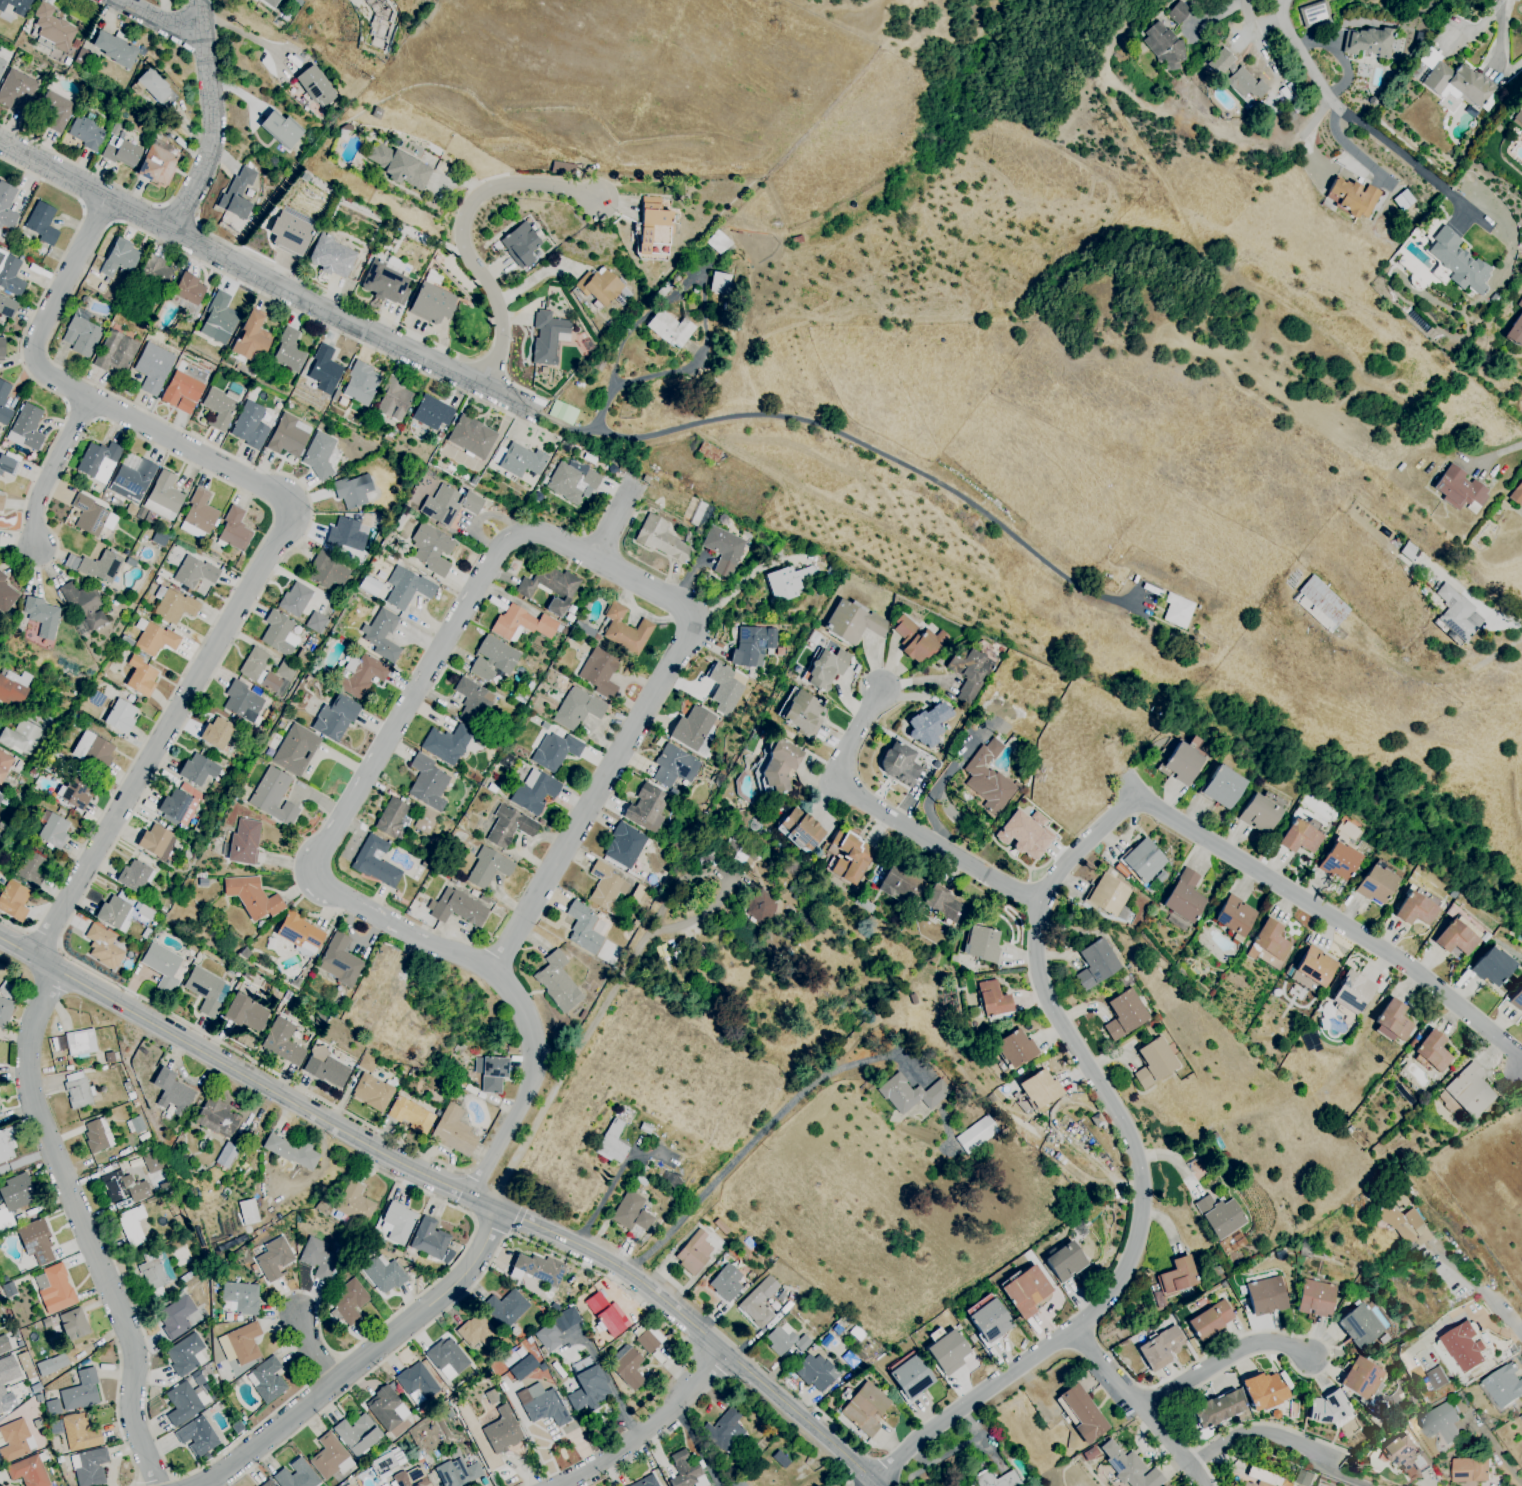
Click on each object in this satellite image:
building: (270, 2)
building: (15, 6)
road: (1223, 7)
building: (1179, 14)
building: (1314, 15)
road: (162, 20)
building: (378, 23)
building: (52, 28)
building: (1369, 44)
road: (1499, 44)
building: (1166, 46)
building: (113, 49)
building: (1219, 62)
building: (1, 64)
building: (1423, 67)
building: (1456, 83)
building: (315, 87)
building: (1248, 88)
building: (155, 89)
building: (16, 90)
building: (54, 111)
road: (209, 119)
building: (1517, 119)
road: (1362, 128)
building: (280, 130)
building: (86, 133)
road: (1310, 135)
road: (1352, 152)
building: (120, 153)
building: (158, 163)
building: (397, 166)
road: (83, 168)
building: (237, 193)
building: (1355, 200)
building: (6, 208)
road: (177, 216)
building: (41, 223)
building: (652, 230)
road: (466, 238)
building: (519, 244)
building: (331, 257)
building: (118, 258)
building: (1458, 263)
building: (153, 273)
building: (9, 275)
road: (535, 275)
building: (383, 283)
building: (718, 283)
building: (599, 286)
road: (321, 289)
building: (185, 293)
building: (431, 304)
building: (1520, 305)
building: (6, 307)
road: (705, 314)
building: (216, 320)
building: (668, 329)
building: (1515, 334)
building: (80, 335)
building: (250, 337)
building: (546, 337)
building: (1, 347)
road: (442, 347)
building: (287, 351)
building: (114, 352)
building: (152, 368)
building: (322, 371)
building: (359, 384)
building: (180, 392)
building: (3, 396)
building: (392, 400)
building: (561, 412)
building: (431, 413)
road: (105, 422)
building: (248, 425)
building: (25, 428)
road: (568, 429)
building: (288, 436)
building: (470, 437)
building: (708, 452)
building: (318, 455)
building: (97, 461)
building: (520, 461)
building: (7, 466)
road: (49, 475)
building: (130, 478)
building: (571, 483)
building: (350, 492)
building: (1461, 492)
building: (162, 497)
building: (1517, 497)
building: (1, 503)
building: (448, 505)
building: (198, 514)
road: (615, 522)
road: (306, 528)
building: (233, 530)
building: (345, 535)
building: (660, 539)
building: (431, 550)
building: (722, 550)
building: (1411, 553)
building: (95, 566)
building: (193, 572)
building: (326, 573)
road: (744, 581)
building: (788, 581)
building: (549, 588)
building: (407, 589)
building: (5, 596)
building: (294, 599)
building: (1321, 605)
building: (174, 606)
building: (1177, 611)
building: (41, 617)
building: (1460, 617)
building: (315, 623)
building: (851, 623)
building: (521, 624)
building: (624, 630)
building: (278, 634)
building: (380, 635)
building: (154, 640)
building: (915, 640)
building: (751, 646)
building: (491, 659)
building: (825, 669)
building: (258, 670)
building: (284, 672)
building: (599, 672)
building: (969, 674)
building: (359, 676)
building: (140, 677)
building: (13, 688)
building: (723, 689)
building: (472, 701)
building: (242, 702)
building: (576, 709)
building: (801, 714)
building: (119, 716)
building: (334, 718)
building: (928, 725)
building: (692, 730)
building: (215, 733)
building: (20, 738)
building: (445, 744)
road: (621, 748)
building: (294, 750)
building: (92, 751)
building: (554, 751)
road: (376, 757)
building: (1181, 763)
building: (4, 764)
building: (779, 765)
building: (898, 765)
building: (673, 766)
road: (145, 770)
building: (197, 770)
building: (986, 778)
road: (945, 781)
building: (427, 784)
building: (1221, 787)
building: (533, 791)
building: (74, 792)
building: (0, 796)
building: (272, 796)
building: (176, 808)
building: (646, 808)
building: (1257, 814)
building: (390, 817)
road: (893, 818)
building: (424, 821)
building: (508, 827)
building: (799, 830)
building: (52, 831)
building: (1024, 834)
building: (1298, 837)
building: (155, 842)
building: (242, 842)
building: (623, 846)
building: (850, 859)
building: (1143, 861)
building: (374, 862)
building: (1338, 862)
building: (30, 868)
building: (487, 868)
building: (134, 876)
building: (1375, 885)
building: (606, 886)
building: (896, 886)
building: (1107, 895)
building: (251, 897)
building: (1183, 897)
building: (12, 900)
building: (943, 905)
building: (456, 908)
building: (758, 909)
building: (1414, 910)
building: (114, 912)
building: (1233, 917)
road: (1337, 918)
building: (582, 928)
building: (298, 934)
road: (45, 938)
building: (1453, 938)
building: (980, 943)
building: (1268, 945)
building: (102, 947)
building: (339, 961)
building: (1095, 964)
building: (161, 967)
building: (1490, 967)
building: (1312, 969)
building: (557, 983)
building: (206, 991)
building: (1352, 991)
building: (991, 999)
building: (1517, 999)
building: (4, 1012)
building: (245, 1013)
building: (1124, 1014)
building: (1391, 1023)
road: (579, 1037)
building: (1309, 1041)
building: (79, 1042)
building: (282, 1042)
building: (1014, 1049)
building: (1431, 1051)
road: (1080, 1057)
building: (1153, 1062)
building: (366, 1063)
building: (324, 1068)
building: (492, 1074)
building: (1039, 1089)
building: (76, 1090)
road: (526, 1090)
building: (1469, 1091)
building: (371, 1092)
building: (170, 1093)
building: (909, 1094)
building: (409, 1115)
building: (216, 1118)
building: (134, 1125)
building: (453, 1131)
road: (763, 1132)
building: (96, 1135)
building: (974, 1135)
road: (362, 1138)
building: (611, 1143)
building: (291, 1152)
road: (482, 1153)
building: (225, 1156)
building: (153, 1165)
building: (123, 1187)
building: (16, 1192)
building: (353, 1204)
road: (597, 1206)
road: (105, 1209)
building: (247, 1212)
building: (630, 1212)
building: (1219, 1216)
road: (517, 1217)
building: (396, 1223)
building: (1400, 1224)
building: (131, 1225)
road: (510, 1233)
building: (428, 1239)
building: (35, 1241)
building: (693, 1252)
building: (1281, 1256)
building: (273, 1258)
building: (318, 1258)
building: (1064, 1262)
road: (1452, 1264)
building: (536, 1269)
building: (151, 1271)
building: (383, 1274)
building: (1177, 1277)
building: (725, 1283)
building: (53, 1289)
building: (1025, 1291)
building: (1267, 1296)
building: (0, 1298)
building: (240, 1298)
building: (1316, 1298)
building: (348, 1302)
building: (758, 1302)
building: (505, 1308)
road: (1499, 1311)
building: (606, 1315)
road: (439, 1316)
building: (175, 1317)
building: (989, 1321)
building: (1211, 1321)
building: (72, 1324)
building: (1361, 1326)
building: (555, 1329)
building: (477, 1332)
building: (784, 1340)
building: (646, 1342)
building: (3, 1344)
building: (240, 1344)
road: (296, 1347)
building: (1466, 1347)
building: (1159, 1349)
road: (316, 1350)
building: (946, 1352)
road: (1275, 1354)
building: (184, 1355)
building: (446, 1359)
road: (1222, 1359)
road: (365, 1361)
building: (51, 1365)
building: (25, 1366)
building: (626, 1367)
building: (522, 1368)
building: (816, 1372)
building: (910, 1378)
building: (1437, 1378)
building: (1362, 1379)
building: (265, 1380)
building: (416, 1381)
building: (1503, 1385)
building: (1, 1388)
building: (587, 1389)
road: (1148, 1389)
building: (1263, 1391)
building: (75, 1395)
building: (1240, 1396)
building: (201, 1397)
road: (1130, 1399)
road: (1159, 1402)
building: (181, 1404)
road: (969, 1404)
building: (541, 1405)
building: (1328, 1408)
building: (386, 1409)
building: (864, 1409)
building: (1216, 1410)
building: (1293, 1411)
road: (797, 1414)
building: (1081, 1414)
building: (1275, 1414)
road: (118, 1415)
road: (1171, 1415)
building: (1521, 1417)
building: (1441, 1422)
road: (648, 1430)
building: (501, 1431)
building: (725, 1431)
building: (78, 1433)
building: (356, 1435)
building: (196, 1437)
road: (1280, 1438)
building: (14, 1440)
building: (1089, 1452)
road: (1499, 1453)
building: (1405, 1454)
building: (329, 1458)
road: (1199, 1459)
building: (781, 1460)
building: (88, 1467)
building: (1128, 1467)
building: (1470, 1469)
building: (685, 1471)
building: (27, 1472)
building: (457, 1473)
building: (295, 1475)
road: (1194, 1475)
road: (1210, 1476)
building: (409, 1478)
building: (1303, 1478)
building: (995, 1480)
road: (845, 1481)
building: (736, 1482)
building: (267, 1483)
building: (1284, 1483)
building: (1248, 1484)
building: (1262, 1484)
building: (347, 1485)
road: (557, 1485)

